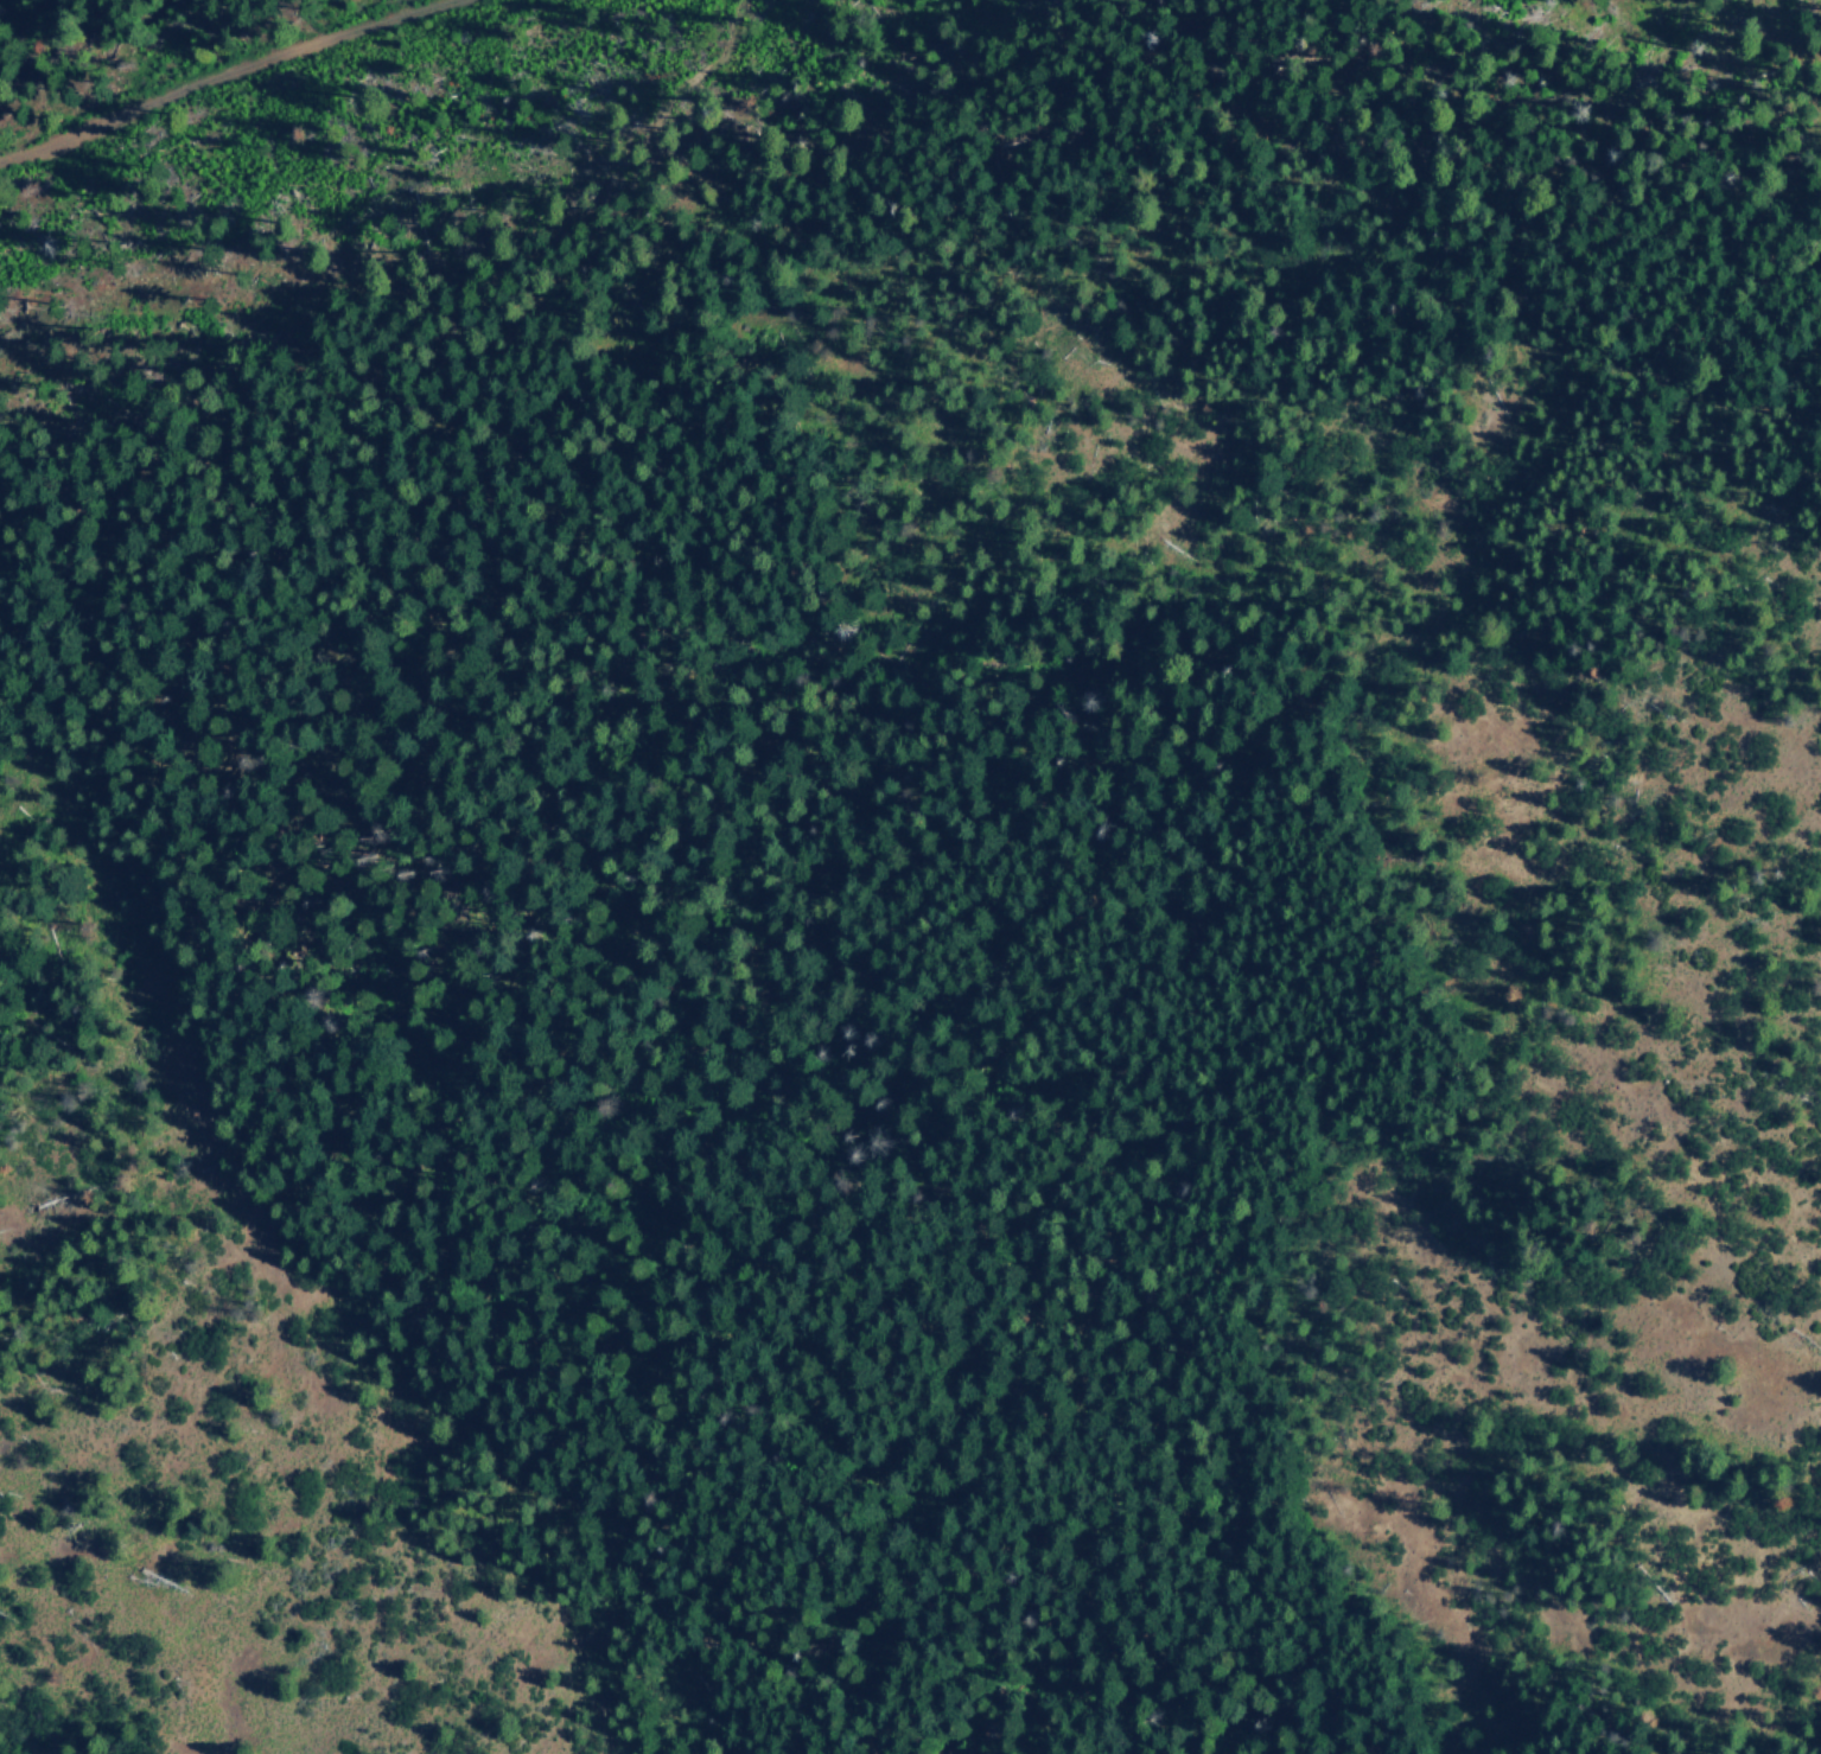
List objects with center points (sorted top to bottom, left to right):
road: (224, 76)

